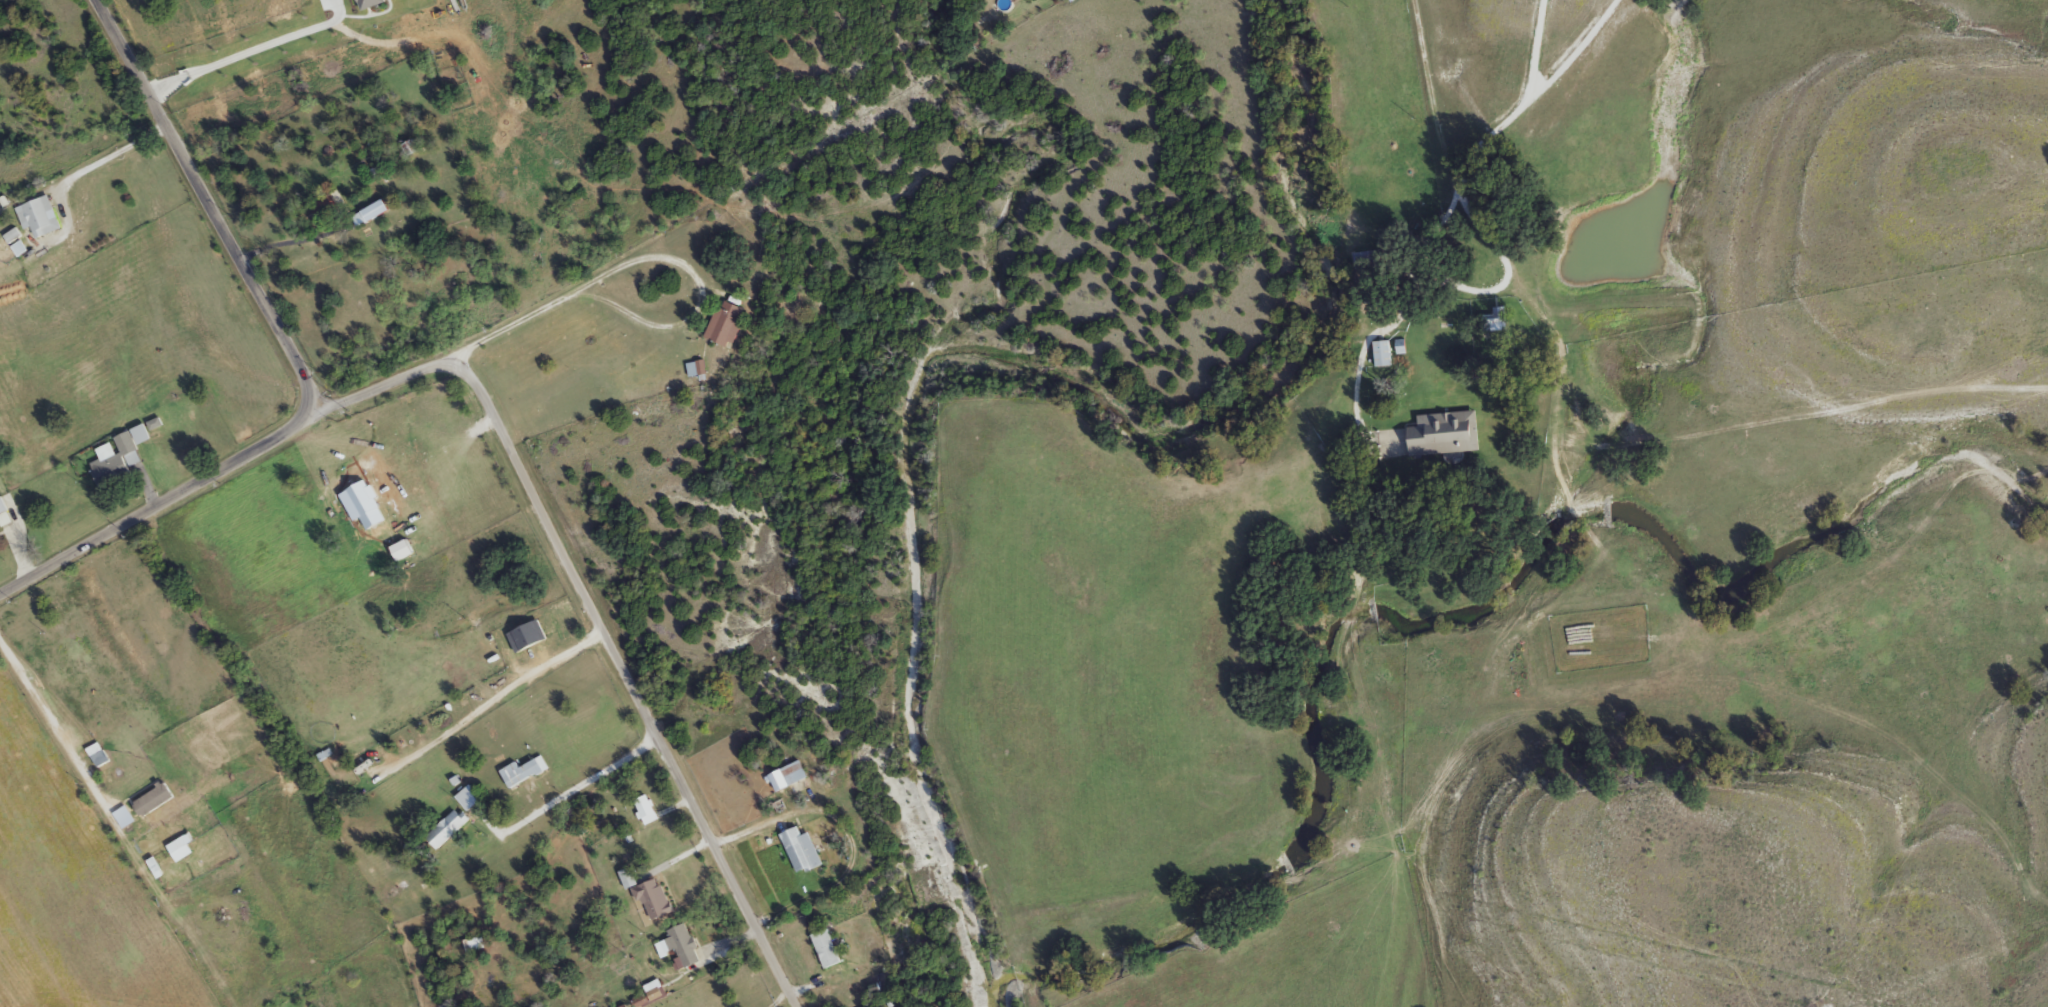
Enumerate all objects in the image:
road: (1576, 49)
road: (241, 59)
road: (1428, 87)
road: (1524, 100)
road: (110, 157)
road: (209, 206)
building: (327, 209)
building: (42, 219)
road: (297, 245)
road: (678, 262)
building: (1368, 262)
road: (1482, 285)
building: (1499, 322)
road: (508, 324)
building: (728, 324)
building: (1385, 355)
building: (1447, 435)
building: (143, 436)
building: (118, 461)
road: (148, 492)
road: (162, 503)
building: (5, 514)
road: (17, 557)
road: (601, 618)
building: (727, 722)
building: (100, 757)
building: (525, 774)
road: (88, 777)
building: (790, 779)
road: (580, 781)
building: (155, 803)
building: (646, 809)
road: (753, 821)
building: (449, 831)
building: (184, 851)
building: (803, 853)
road: (816, 892)
building: (657, 901)
building: (685, 946)
building: (832, 956)
road: (824, 990)

